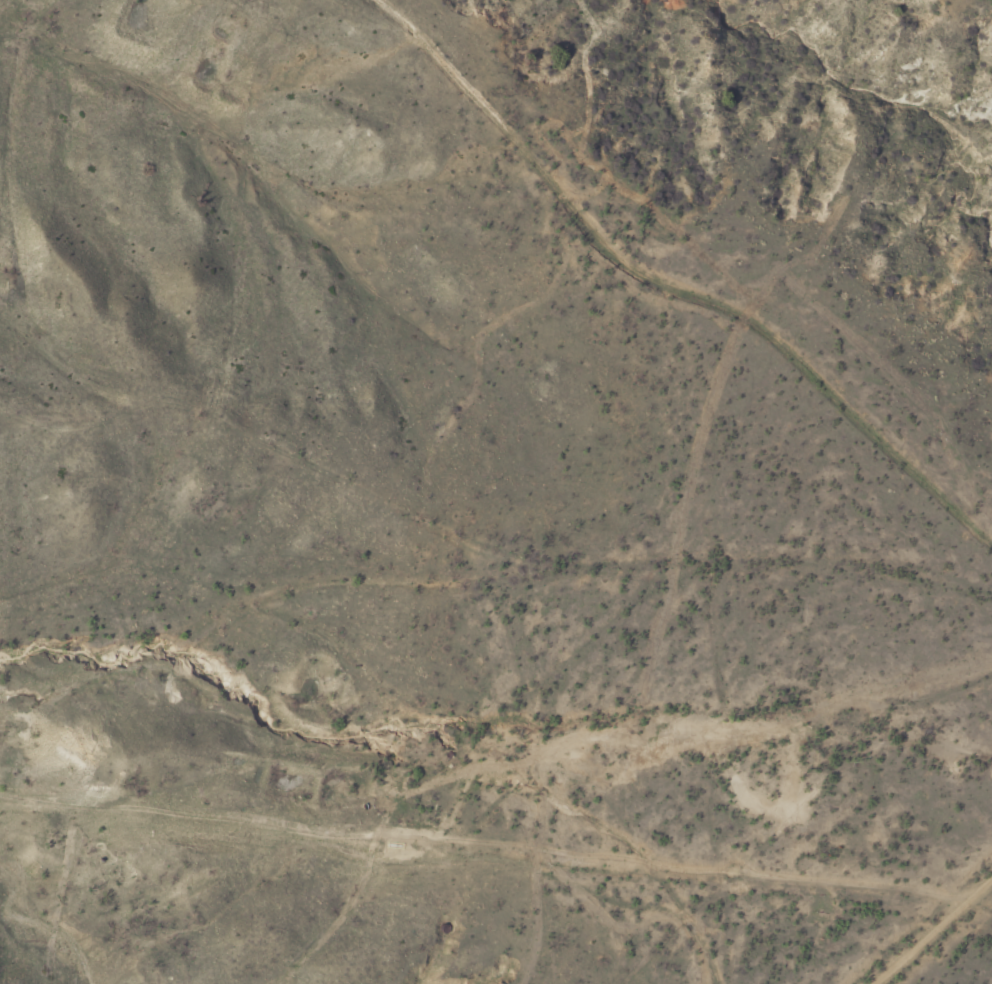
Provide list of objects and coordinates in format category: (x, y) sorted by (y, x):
road: (332, 587)
road: (138, 663)
road: (871, 680)
road: (311, 835)
road: (927, 921)

